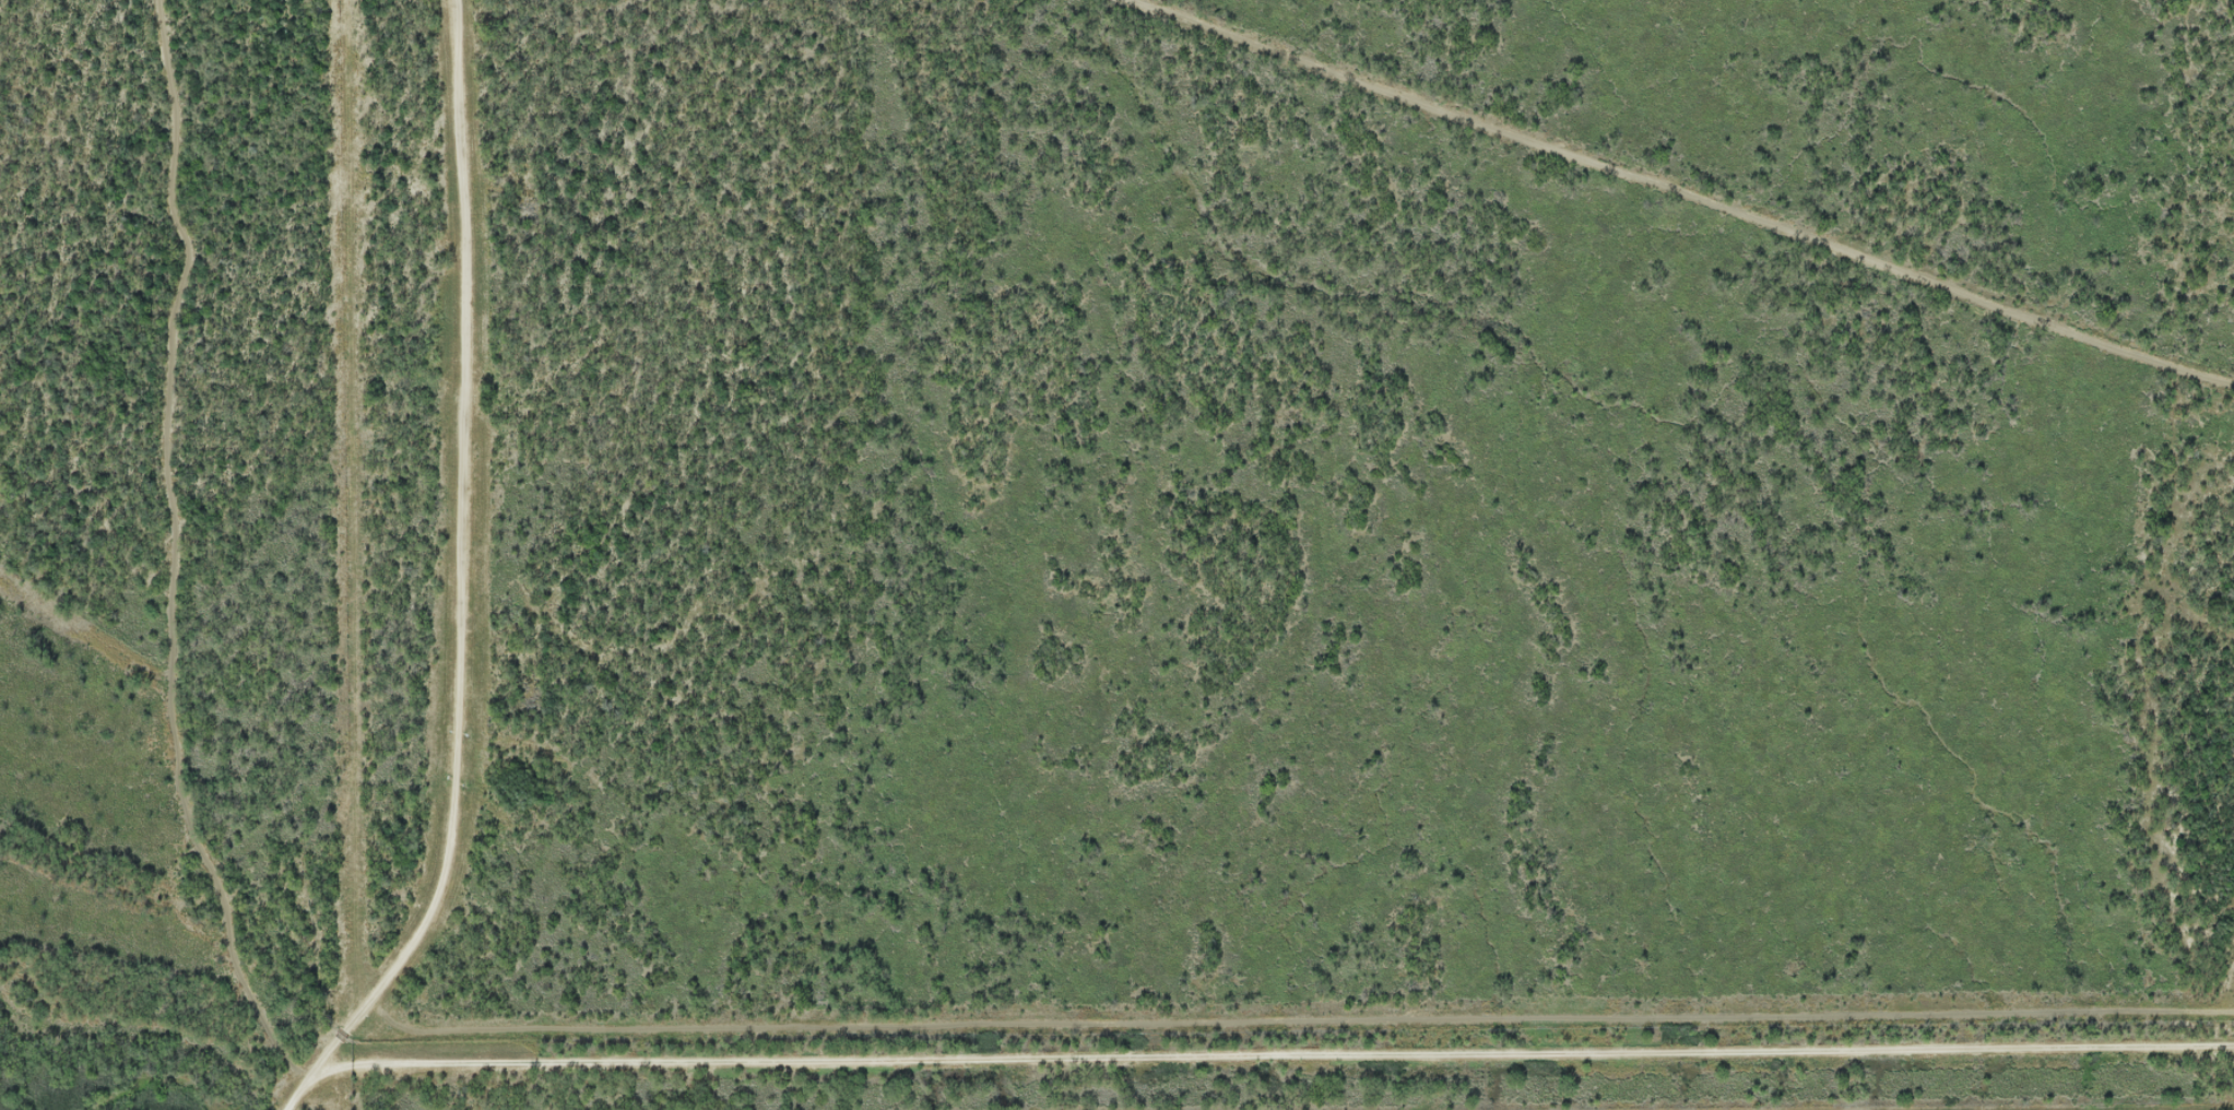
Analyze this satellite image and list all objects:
road: (459, 580)

